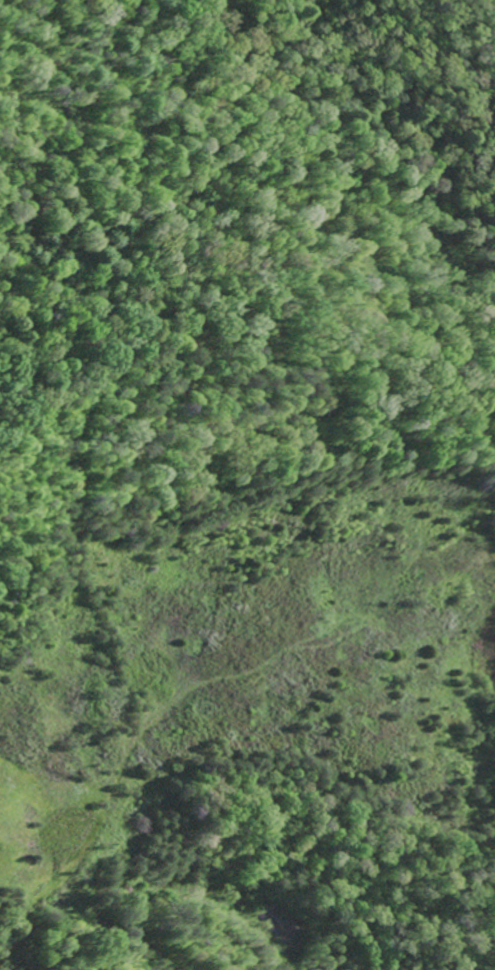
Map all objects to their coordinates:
road: (237, 352)

